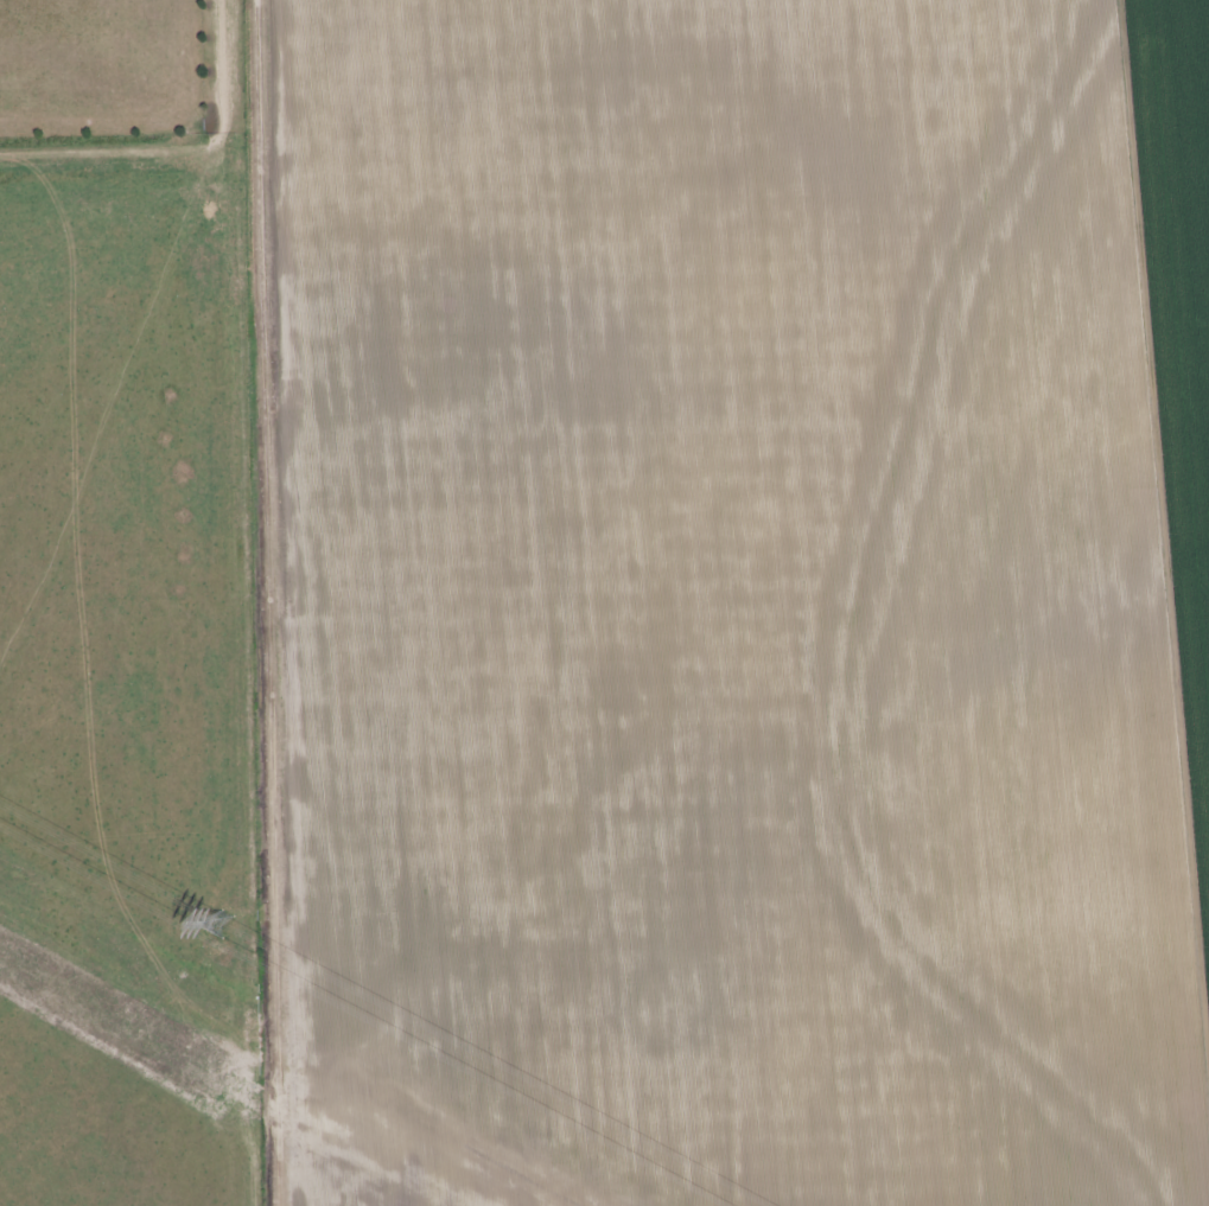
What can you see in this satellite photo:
power tower: (216, 924)

